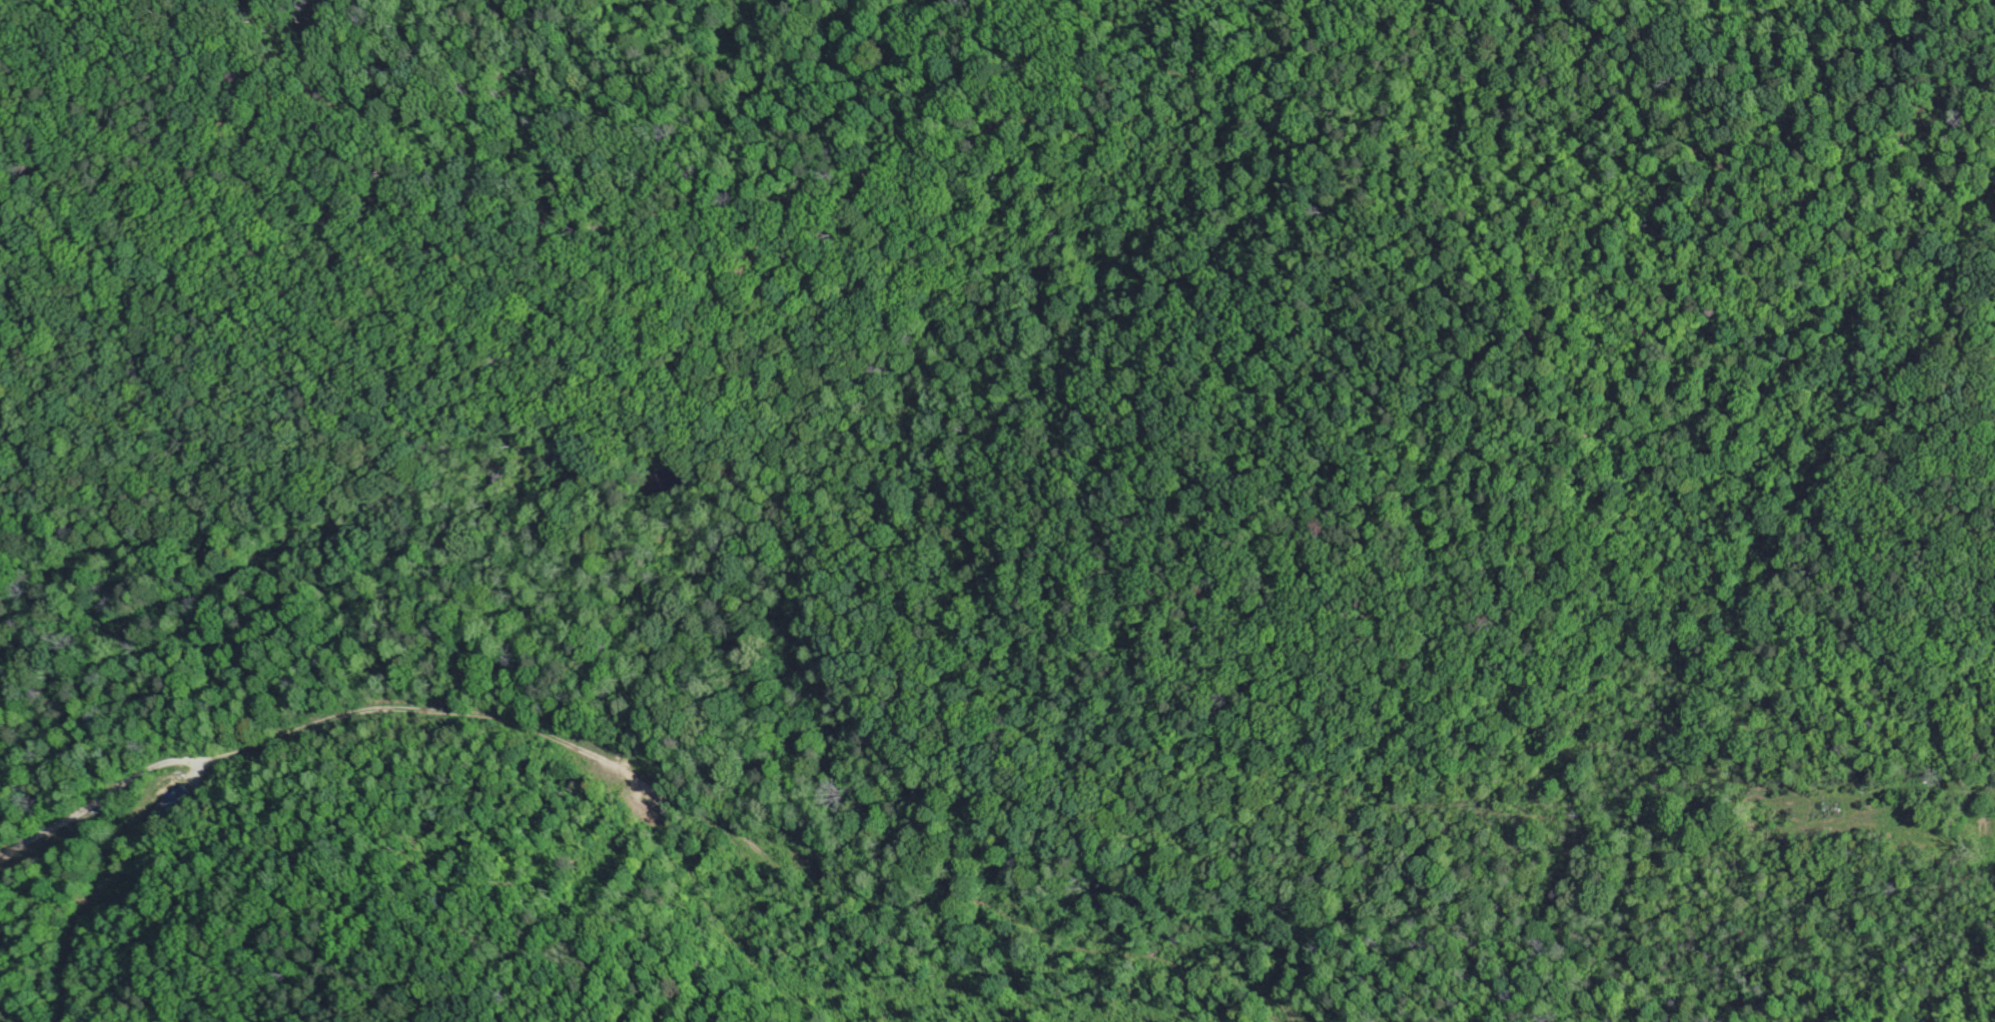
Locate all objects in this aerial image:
building: (180, 805)

